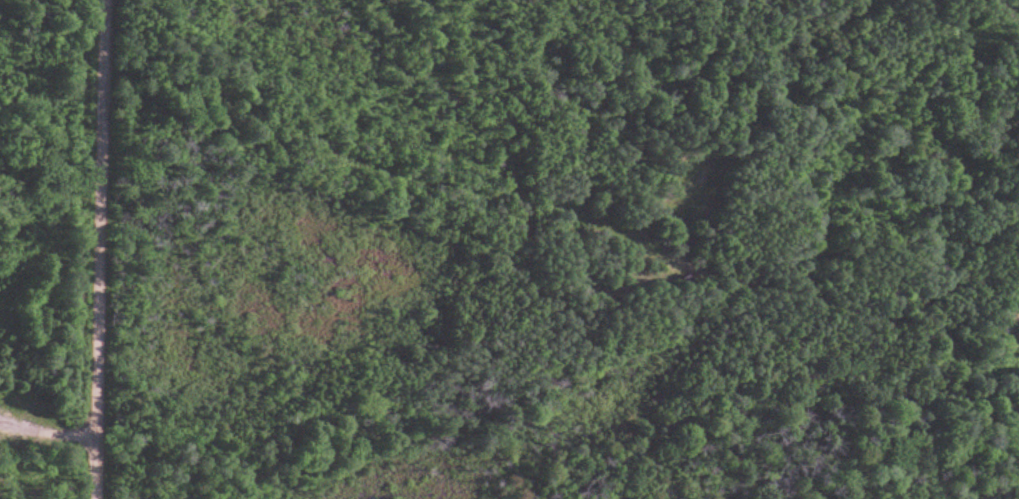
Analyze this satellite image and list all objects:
road: (82, 241)
road: (107, 249)

